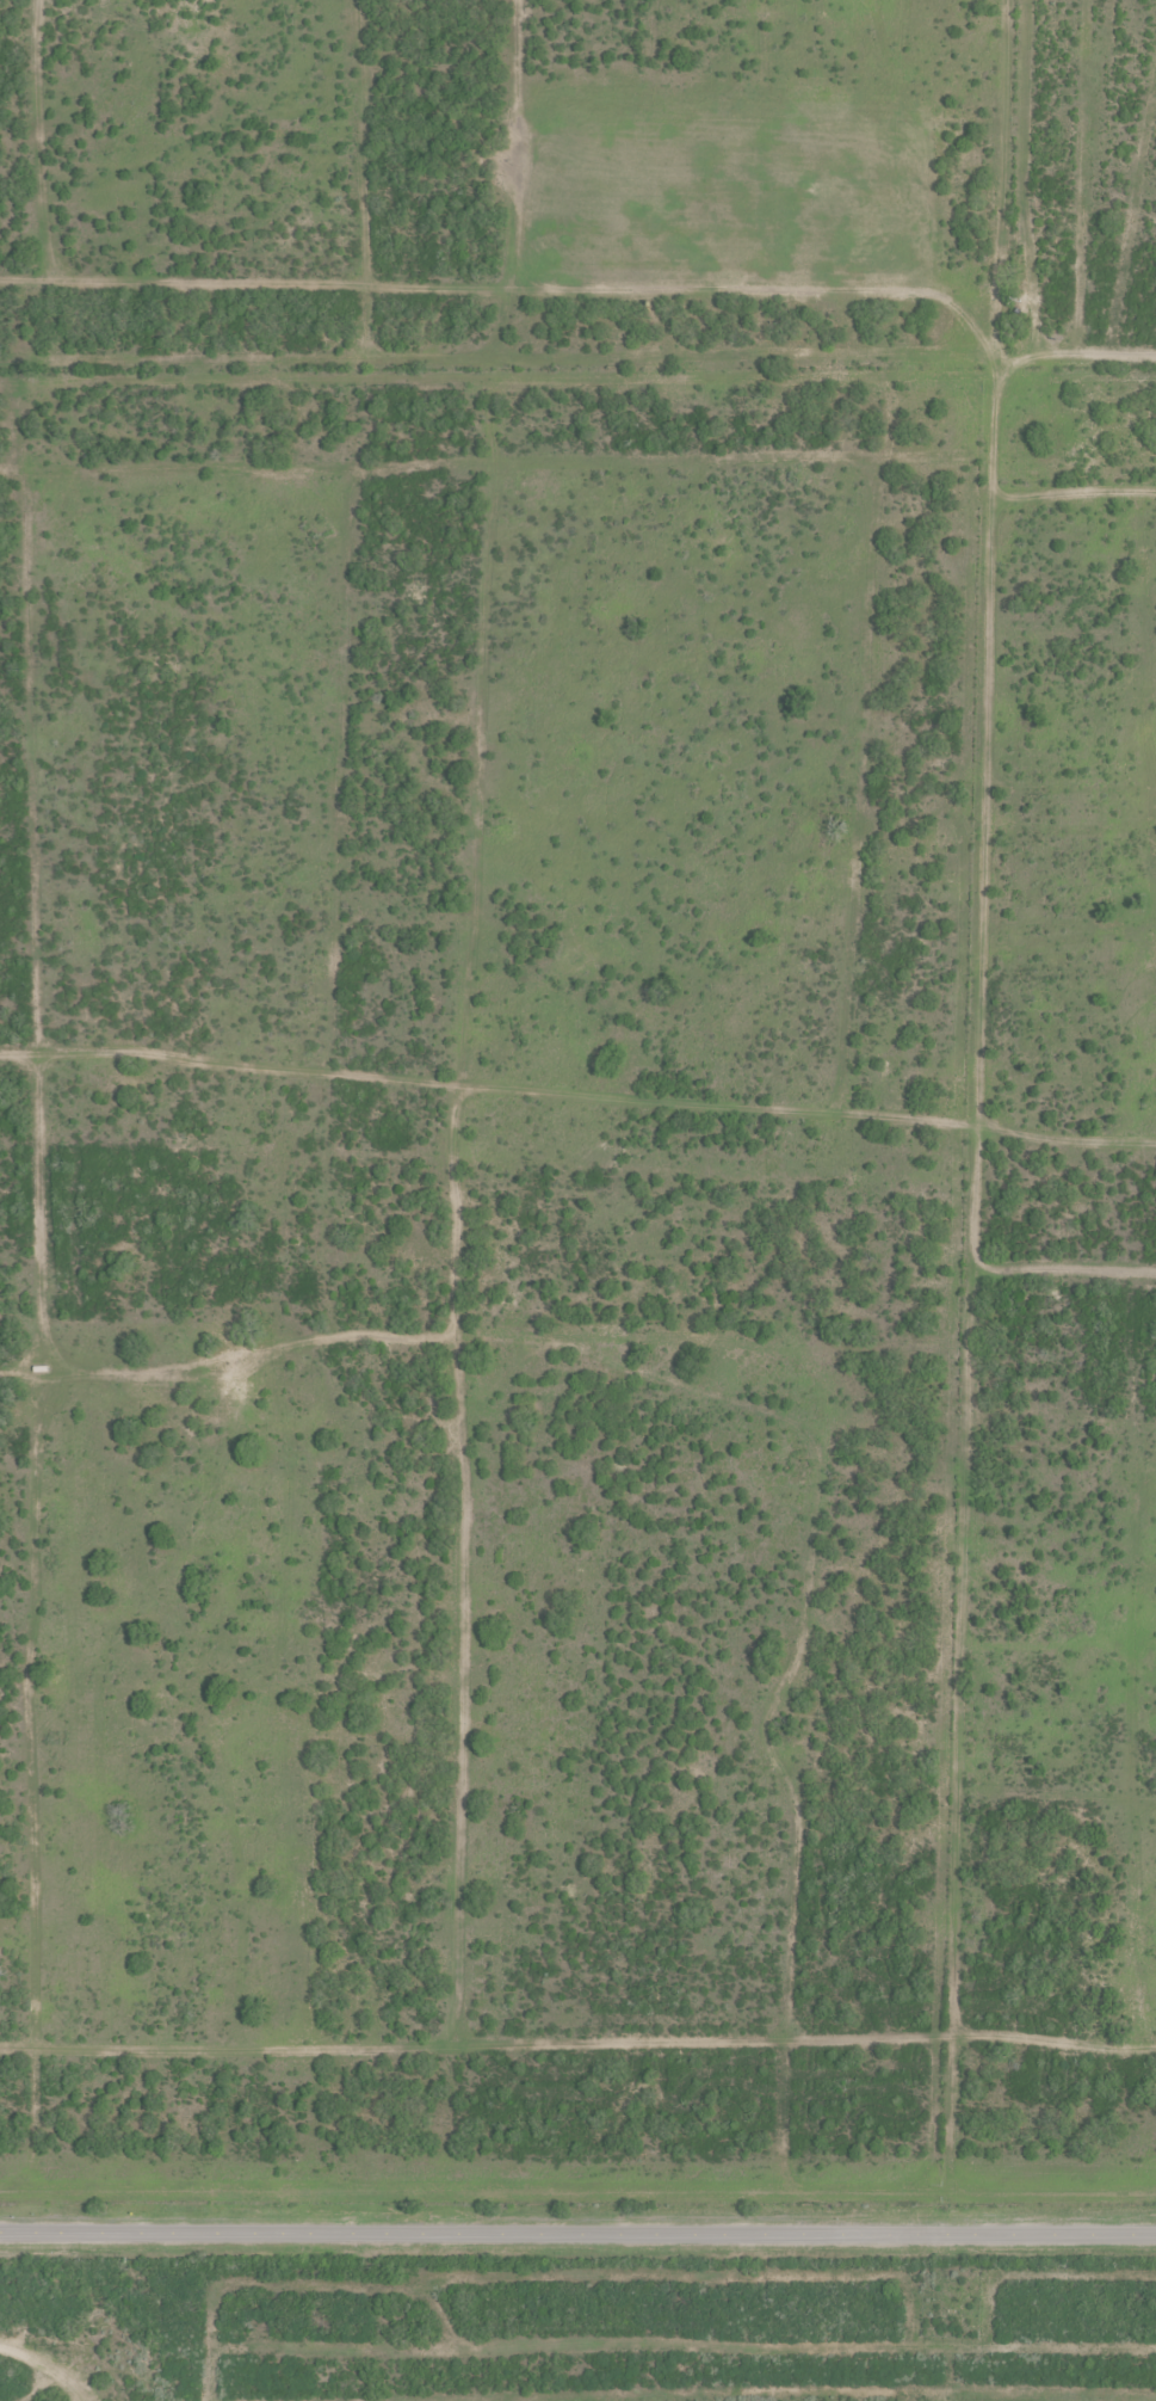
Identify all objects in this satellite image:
road: (577, 2234)

